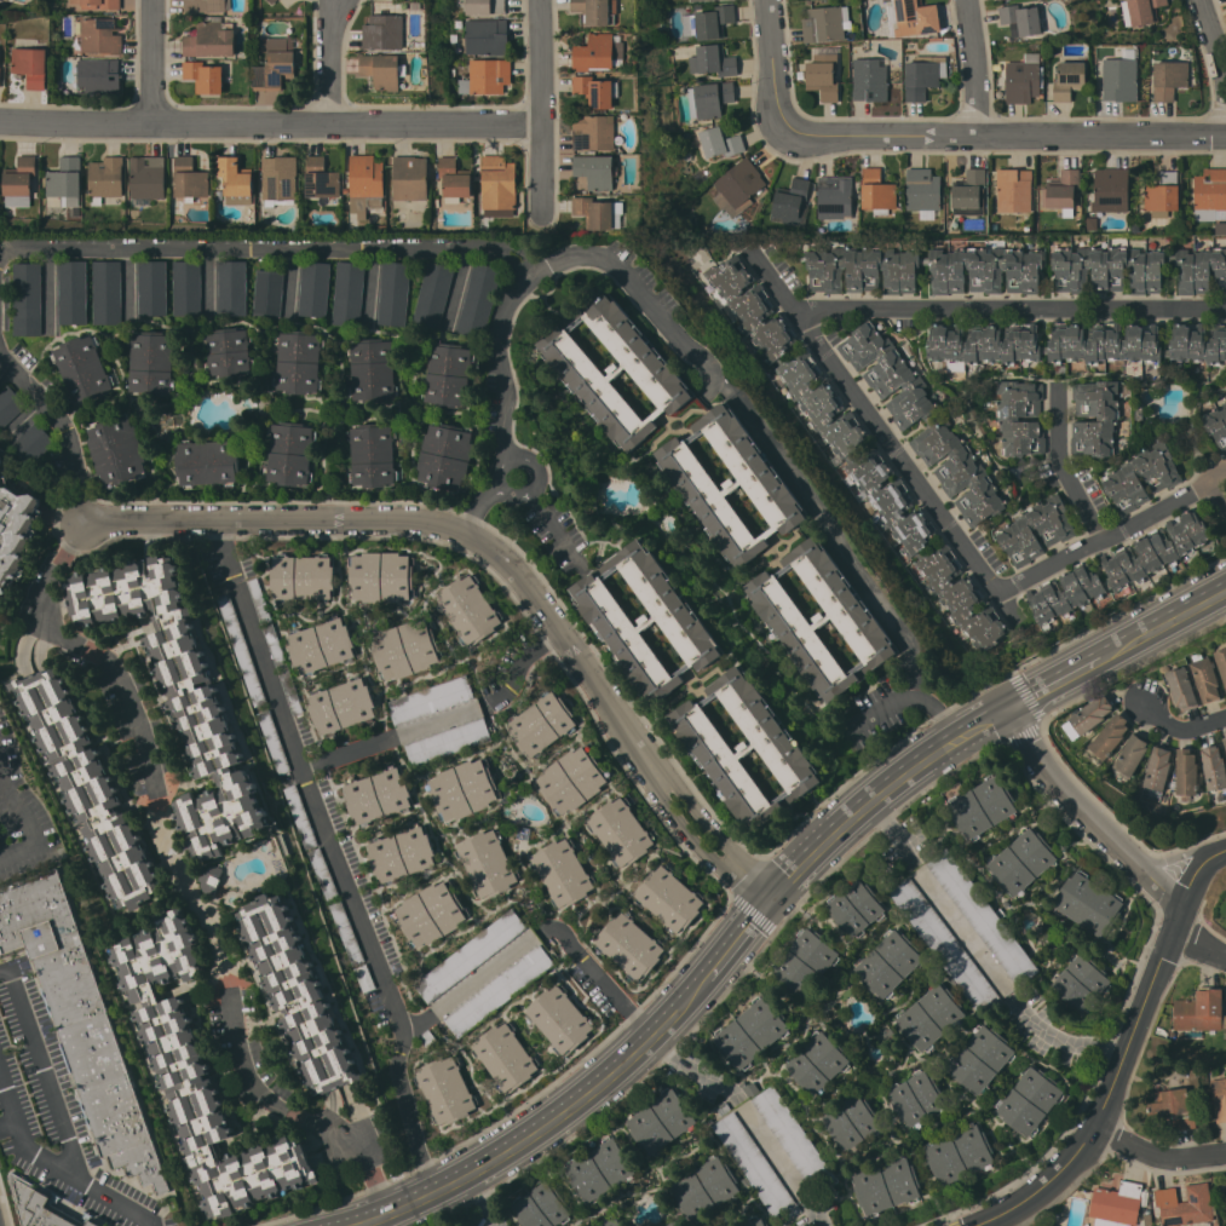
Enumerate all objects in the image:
building: (696, 0)
building: (272, 1)
building: (207, 5)
building: (110, 6)
building: (484, 6)
building: (1144, 10)
building: (597, 11)
building: (913, 17)
building: (1024, 18)
building: (709, 22)
building: (827, 23)
building: (384, 31)
building: (98, 35)
building: (487, 36)
building: (212, 39)
road: (1216, 39)
building: (600, 52)
road: (154, 61)
road: (340, 61)
building: (713, 61)
building: (275, 64)
building: (31, 65)
road: (775, 67)
road: (977, 67)
building: (384, 69)
building: (0, 73)
building: (823, 75)
building: (923, 75)
building: (98, 76)
building: (205, 76)
building: (487, 76)
building: (1121, 76)
building: (1024, 77)
building: (870, 79)
building: (1169, 79)
building: (1070, 80)
building: (597, 90)
building: (709, 99)
road: (543, 104)
road: (271, 122)
building: (594, 132)
road: (1009, 136)
building: (720, 142)
building: (597, 171)
building: (148, 177)
building: (235, 177)
building: (280, 177)
building: (105, 178)
building: (410, 178)
building: (189, 179)
building: (321, 179)
building: (454, 179)
building: (19, 182)
building: (65, 182)
building: (366, 184)
building: (497, 185)
building: (738, 186)
building: (923, 189)
building: (1061, 189)
building: (1111, 189)
building: (877, 190)
building: (1014, 190)
building: (969, 192)
building: (1163, 192)
building: (1209, 192)
building: (835, 196)
building: (790, 201)
building: (597, 211)
road: (257, 246)
road: (529, 263)
building: (985, 270)
building: (1136, 270)
road: (529, 281)
road: (368, 283)
building: (186, 287)
building: (232, 288)
building: (315, 288)
building: (107, 290)
building: (152, 290)
building: (73, 292)
building: (269, 293)
building: (347, 293)
building: (393, 293)
building: (433, 294)
building: (27, 299)
building: (478, 299)
road: (1013, 309)
building: (1136, 343)
building: (983, 345)
building: (229, 352)
building: (298, 362)
building: (151, 363)
building: (82, 368)
building: (614, 369)
building: (372, 370)
building: (448, 374)
building: (8, 404)
road: (50, 410)
building: (1138, 410)
building: (1020, 418)
building: (1107, 420)
building: (938, 424)
building: (1216, 425)
building: (31, 443)
building: (0, 449)
building: (116, 449)
building: (844, 453)
building: (289, 454)
building: (372, 455)
building: (444, 455)
building: (1, 461)
building: (207, 462)
road: (1064, 468)
building: (1162, 477)
road: (1222, 479)
building: (731, 484)
road: (82, 501)
road: (540, 514)
road: (950, 525)
road: (833, 530)
building: (1057, 530)
building: (15, 533)
road: (226, 548)
road: (506, 560)
road: (58, 565)
building: (1118, 568)
building: (381, 576)
building: (303, 577)
building: (468, 609)
road: (1180, 615)
building: (645, 620)
building: (821, 620)
building: (266, 623)
road: (23, 637)
building: (321, 645)
building: (241, 647)
building: (405, 649)
building: (1221, 661)
road: (1071, 673)
building: (1205, 679)
road: (123, 686)
building: (1180, 686)
building: (290, 692)
building: (180, 693)
building: (431, 698)
building: (343, 706)
road: (891, 712)
building: (1087, 716)
building: (541, 724)
road: (1184, 727)
building: (1106, 738)
road: (385, 739)
building: (1225, 741)
building: (272, 742)
building: (448, 742)
building: (746, 748)
building: (1130, 755)
building: (1214, 767)
building: (1156, 772)
building: (1185, 775)
building: (572, 779)
building: (1172, 783)
building: (87, 787)
building: (464, 789)
road: (881, 793)
building: (378, 794)
building: (982, 807)
road: (317, 811)
road: (25, 817)
building: (300, 817)
building: (621, 830)
road: (891, 830)
road: (1111, 839)
building: (402, 853)
building: (1021, 860)
building: (487, 863)
building: (563, 871)
building: (322, 874)
building: (211, 879)
road: (194, 890)
building: (669, 898)
building: (1006, 903)
building: (1088, 903)
building: (856, 908)
building: (1000, 913)
building: (430, 914)
building: (346, 932)
building: (963, 932)
building: (629, 945)
road: (733, 946)
building: (470, 955)
building: (805, 962)
building: (888, 963)
road: (483, 971)
road: (595, 975)
building: (364, 978)
building: (1081, 982)
building: (499, 990)
building: (298, 994)
building: (1198, 1011)
building: (929, 1017)
road: (418, 1019)
building: (560, 1019)
building: (1225, 1020)
building: (81, 1023)
building: (752, 1032)
building: (1225, 1032)
building: (887, 1035)
building: (427, 1037)
road: (1065, 1044)
building: (692, 1055)
road: (243, 1057)
building: (505, 1057)
road: (1123, 1057)
building: (980, 1059)
building: (817, 1061)
road: (687, 1066)
building: (200, 1075)
road: (48, 1083)
building: (750, 1088)
building: (445, 1089)
building: (1219, 1097)
building: (916, 1098)
building: (1029, 1100)
building: (1174, 1106)
building: (723, 1109)
road: (411, 1117)
road: (357, 1118)
building: (661, 1121)
building: (851, 1121)
road: (7, 1124)
road: (324, 1129)
road: (537, 1130)
building: (773, 1152)
building: (959, 1153)
road: (1157, 1155)
road: (54, 1165)
building: (599, 1169)
road: (375, 1182)
building: (886, 1185)
building: (704, 1188)
road: (479, 1201)
building: (1116, 1204)
building: (39, 1205)
building: (1186, 1205)
building: (541, 1207)
road: (817, 1218)
building: (1147, 1219)
building: (610, 1221)
building: (754, 1221)
building: (730, 1225)
building: (766, 1225)

